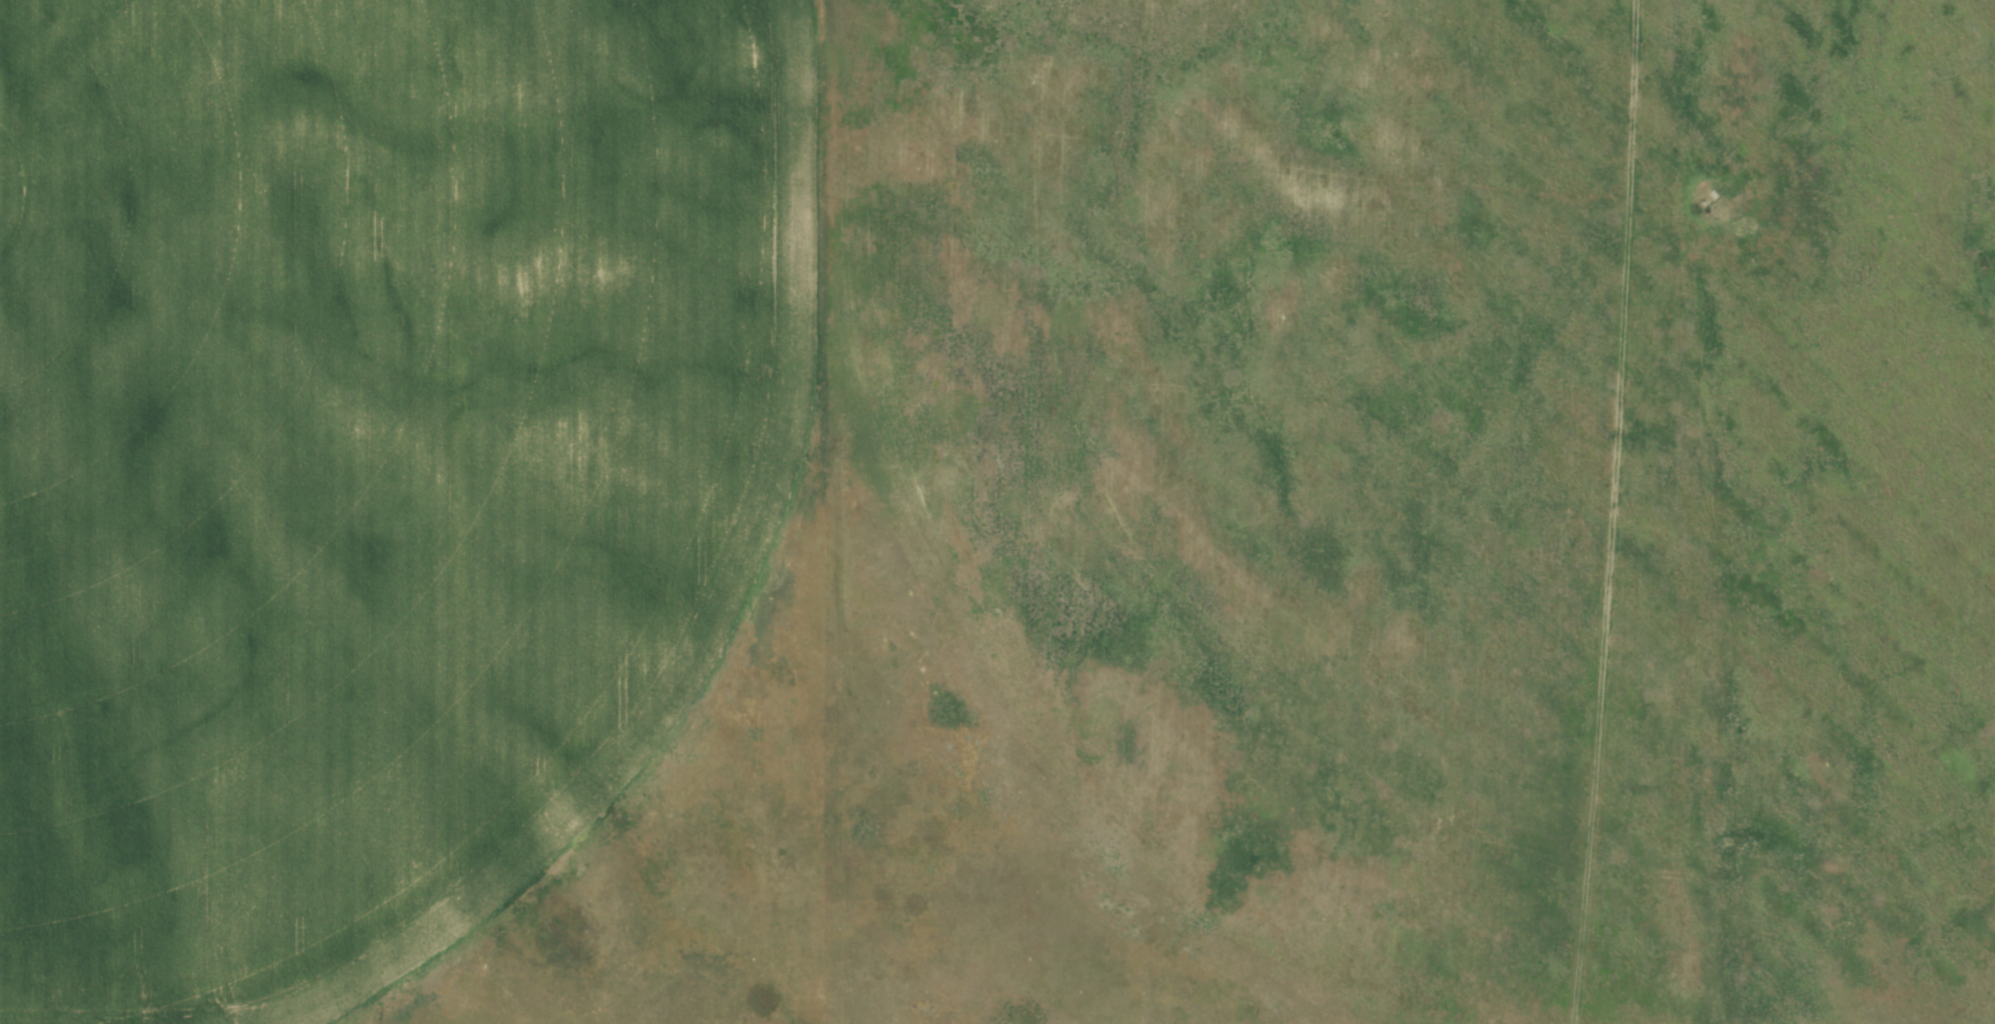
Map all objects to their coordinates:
road: (1568, 248)

